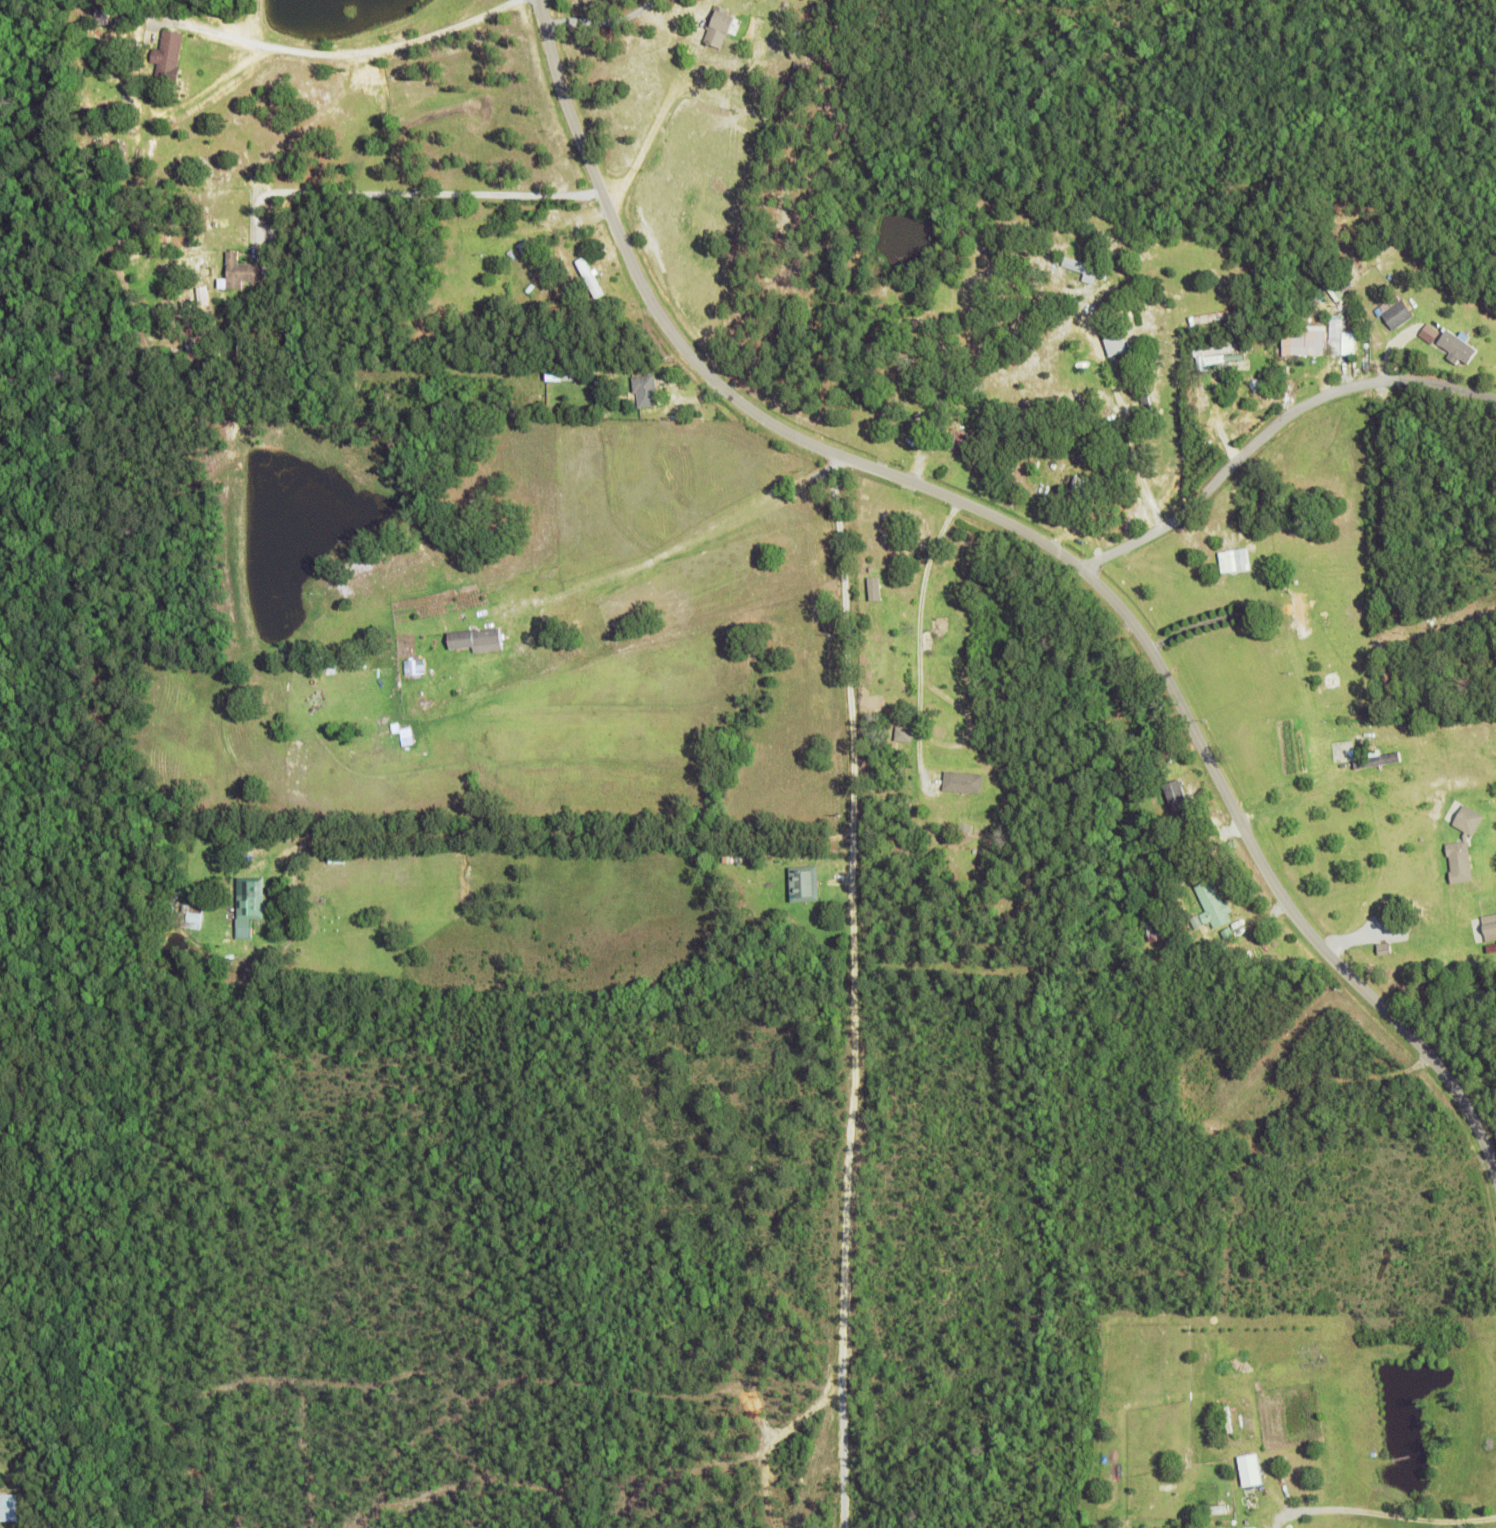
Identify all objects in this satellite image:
building: (125, 17)
building: (720, 26)
road: (355, 50)
building: (169, 55)
building: (805, 69)
building: (793, 86)
building: (152, 97)
building: (112, 118)
building: (105, 171)
building: (143, 175)
building: (1362, 264)
building: (1087, 269)
building: (242, 271)
building: (591, 276)
building: (1340, 292)
building: (203, 295)
building: (1310, 299)
building: (1398, 311)
building: (1216, 316)
building: (1430, 333)
building: (1342, 337)
building: (1307, 340)
building: (1118, 343)
building: (1459, 346)
building: (1214, 349)
building: (198, 355)
building: (1334, 365)
building: (554, 375)
building: (414, 377)
building: (1202, 379)
building: (1257, 384)
building: (647, 389)
building: (1146, 398)
building: (924, 420)
road: (1273, 431)
building: (958, 441)
road: (499, 453)
building: (1080, 489)
road: (1042, 541)
building: (1235, 559)
building: (875, 585)
building: (508, 595)
building: (1299, 610)
building: (1325, 618)
building: (467, 623)
building: (1452, 636)
building: (475, 637)
building: (414, 666)
building: (905, 733)
building: (408, 740)
building: (1377, 759)
building: (964, 782)
building: (1180, 801)
road: (743, 828)
building: (1145, 831)
building: (1463, 842)
building: (284, 874)
building: (806, 883)
building: (1236, 885)
building: (252, 900)
building: (1214, 905)
building: (1243, 910)
building: (192, 916)
building: (1247, 922)
building: (1490, 927)
building: (1156, 928)
building: (1385, 948)
building: (1492, 948)
building: (1136, 949)
building: (1218, 959)
road: (782, 999)
road: (850, 1101)
building: (1229, 1420)
road: (841, 1451)
building: (1249, 1469)
building: (1250, 1527)

